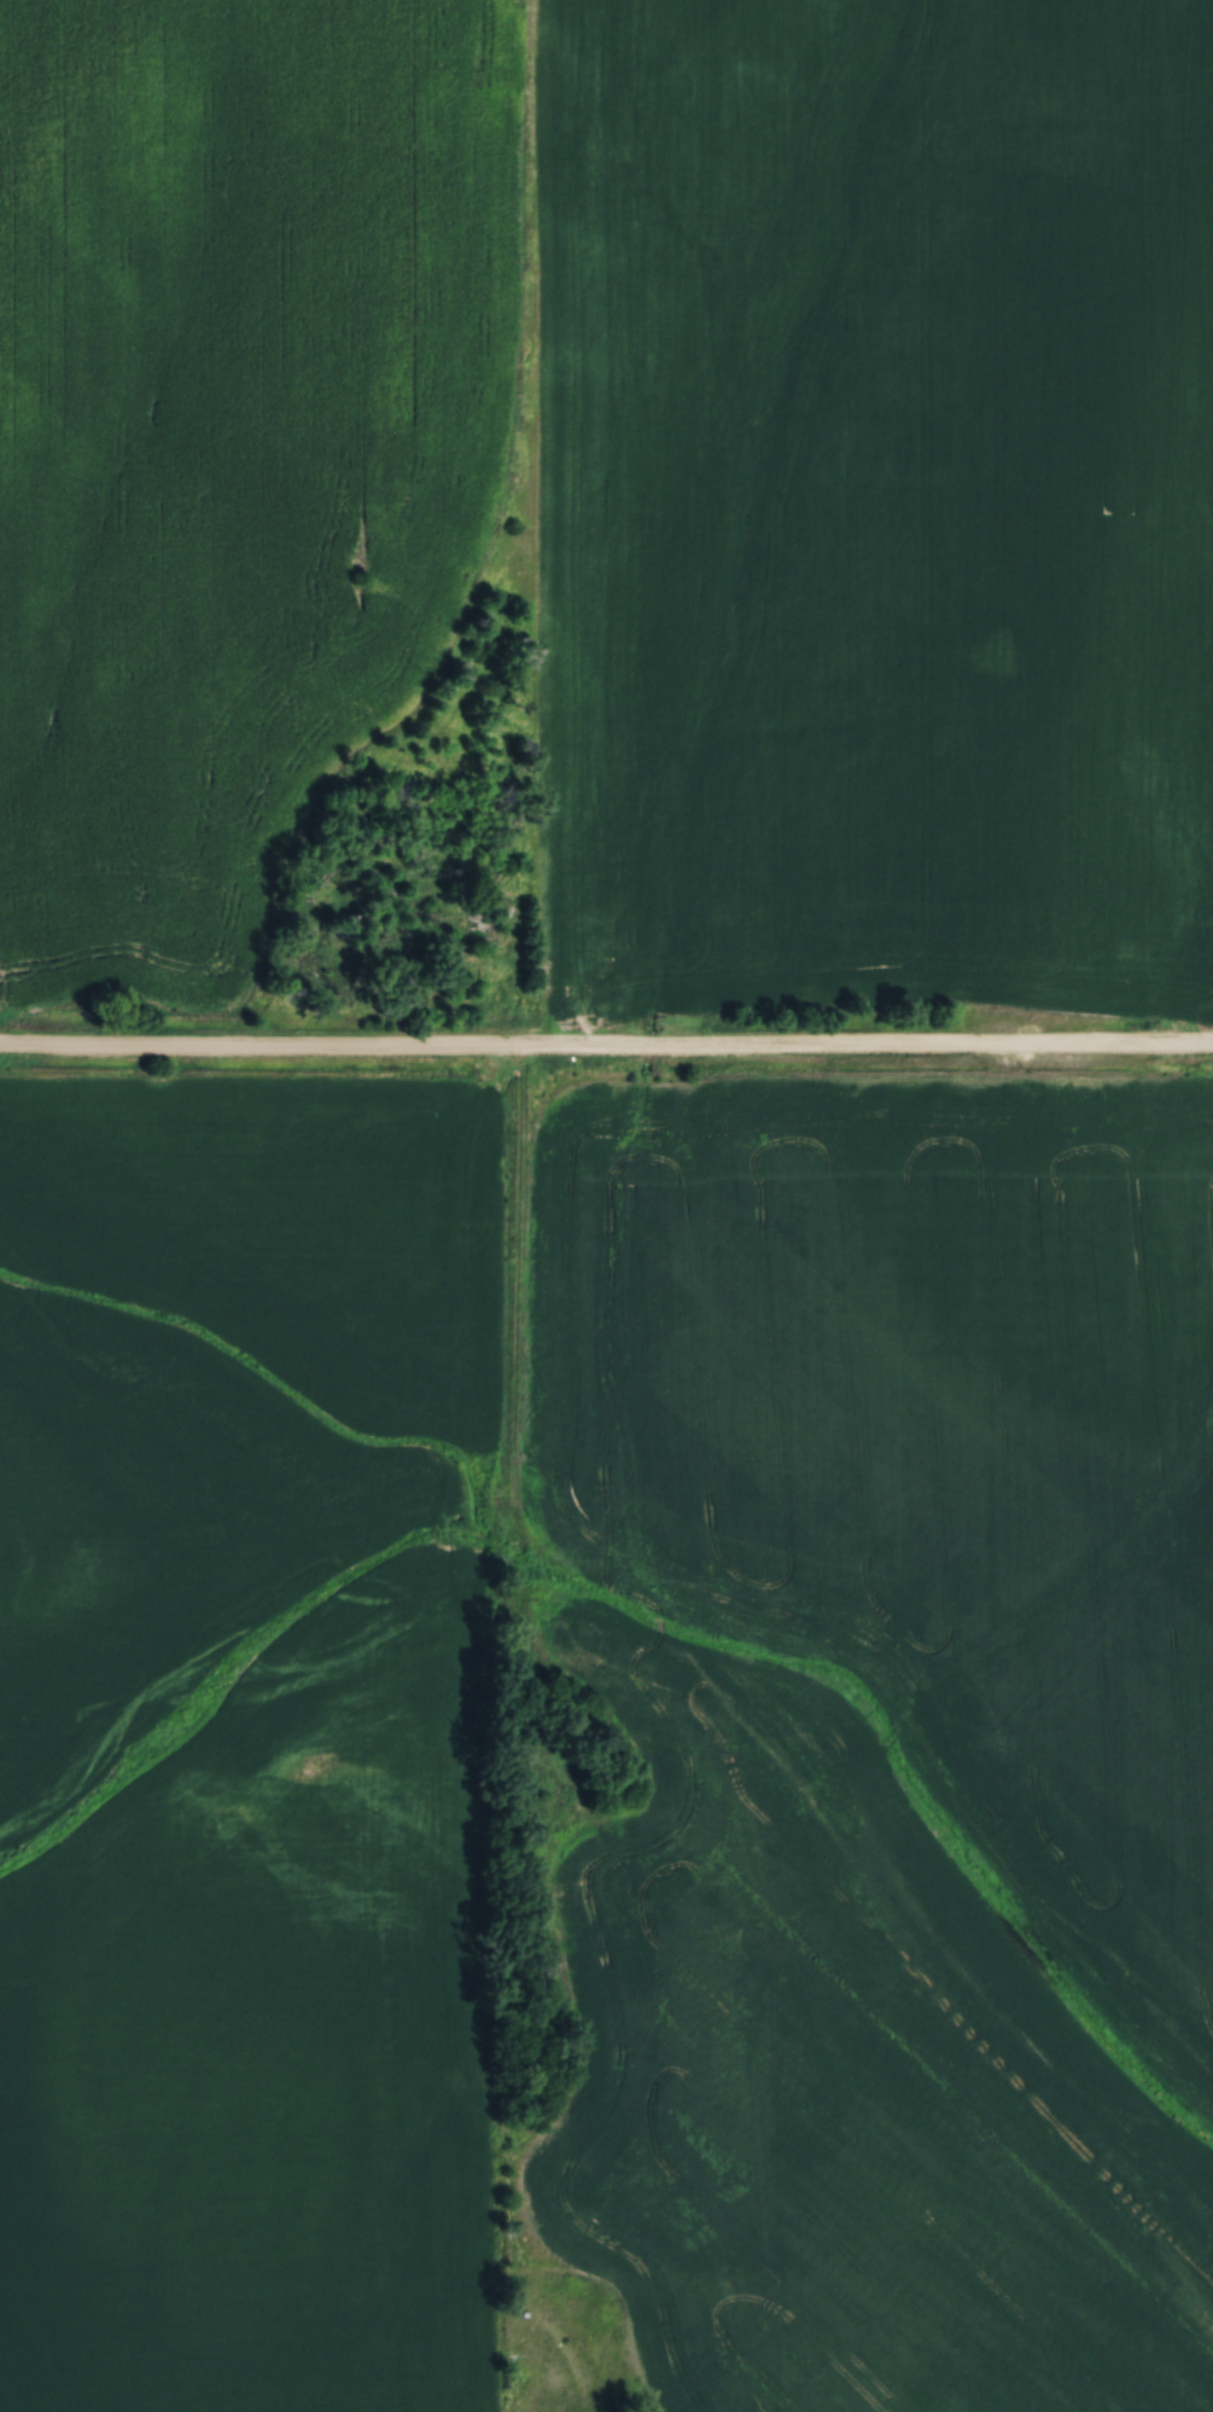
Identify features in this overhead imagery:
building: (480, 935)
road: (606, 1048)
road: (517, 1423)

